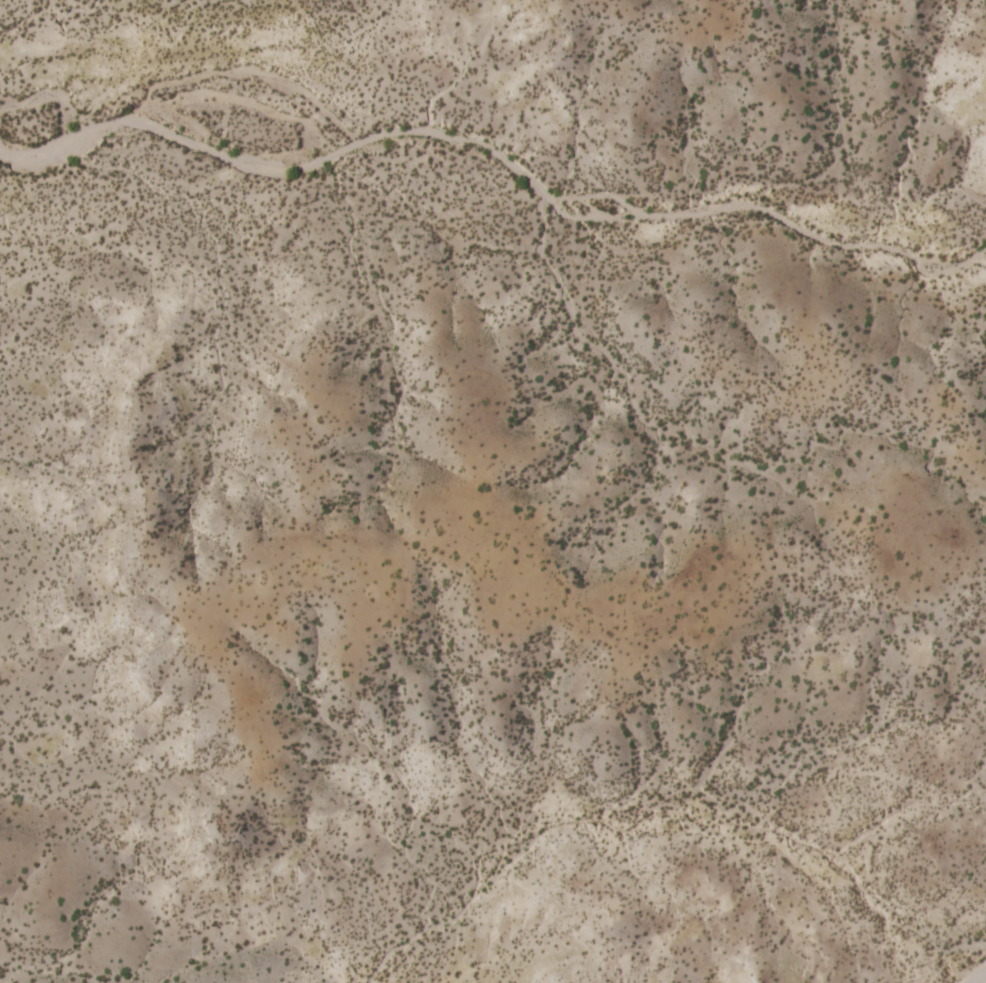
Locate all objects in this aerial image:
road: (976, 975)

